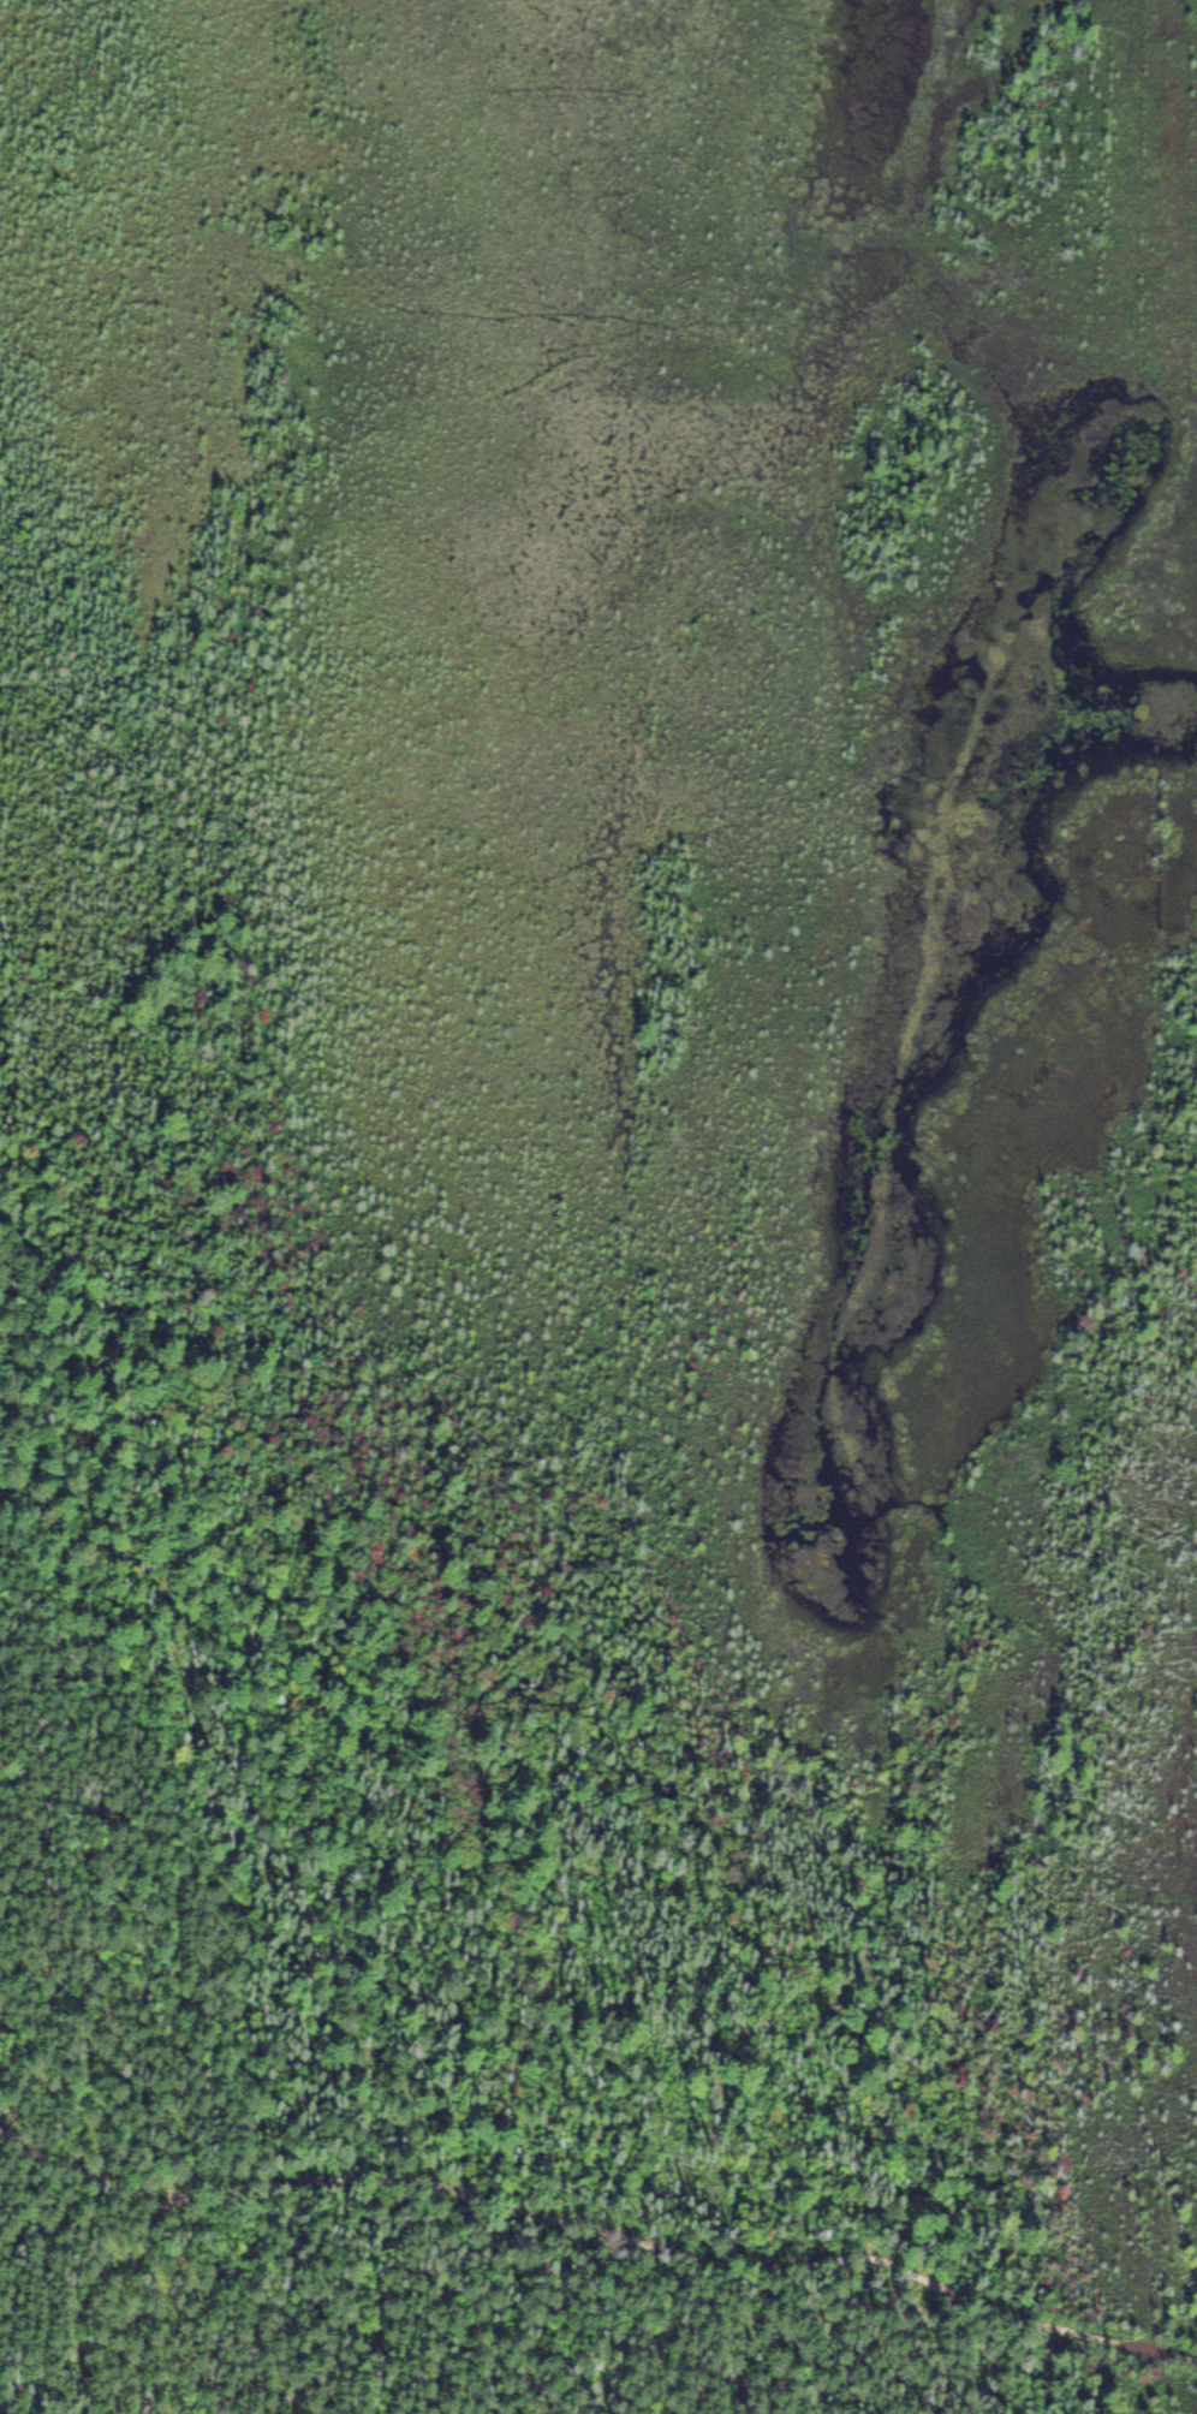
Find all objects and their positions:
road: (588, 2235)

